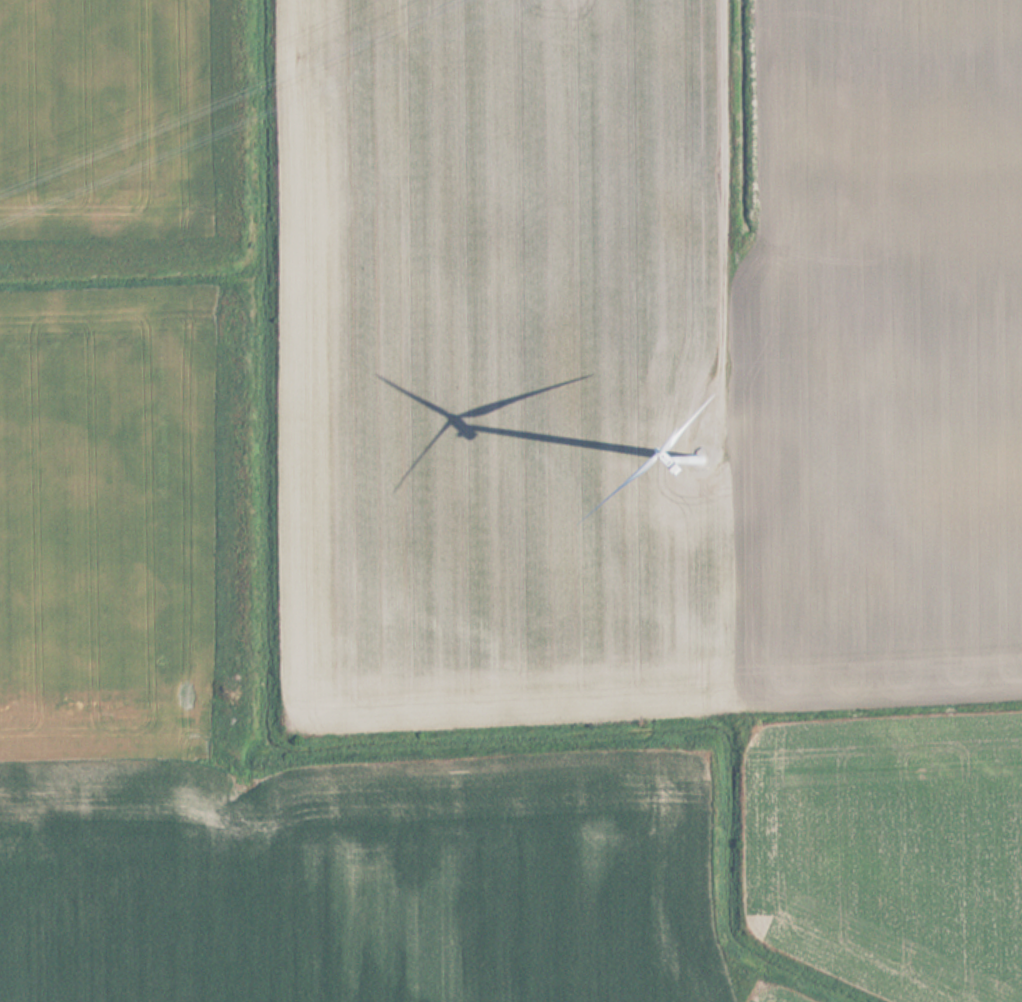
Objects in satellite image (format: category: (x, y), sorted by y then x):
road: (745, 173)
wind turbine: (706, 459)

